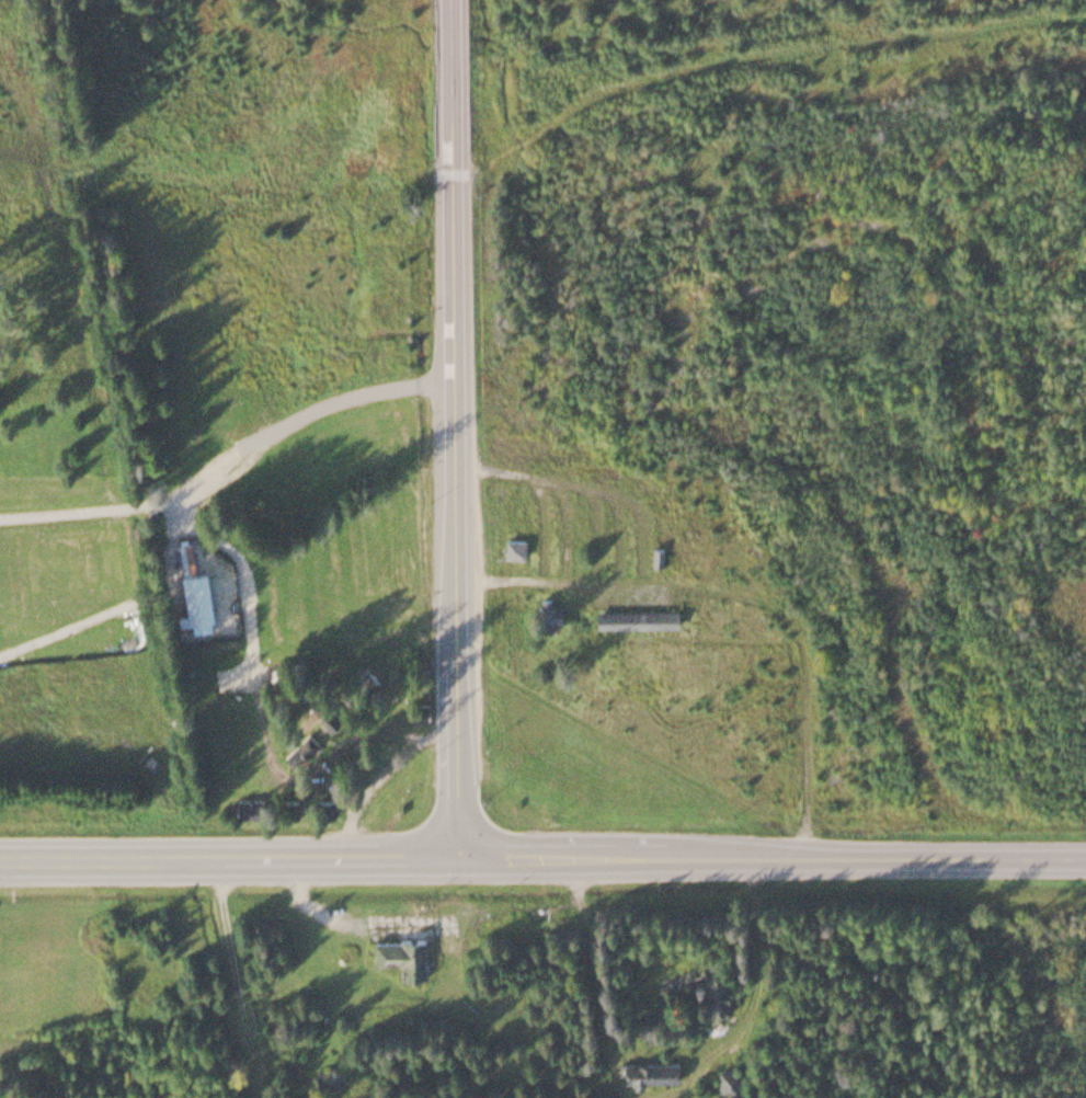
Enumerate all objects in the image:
road: (453, 427)
road: (229, 461)
building: (513, 547)
building: (656, 556)
building: (196, 596)
building: (547, 611)
building: (630, 617)
building: (328, 718)
road: (379, 777)
building: (244, 808)
road: (542, 855)
building: (401, 952)
road: (235, 977)
building: (715, 992)
building: (647, 1068)
building: (727, 1078)
building: (323, 1079)

